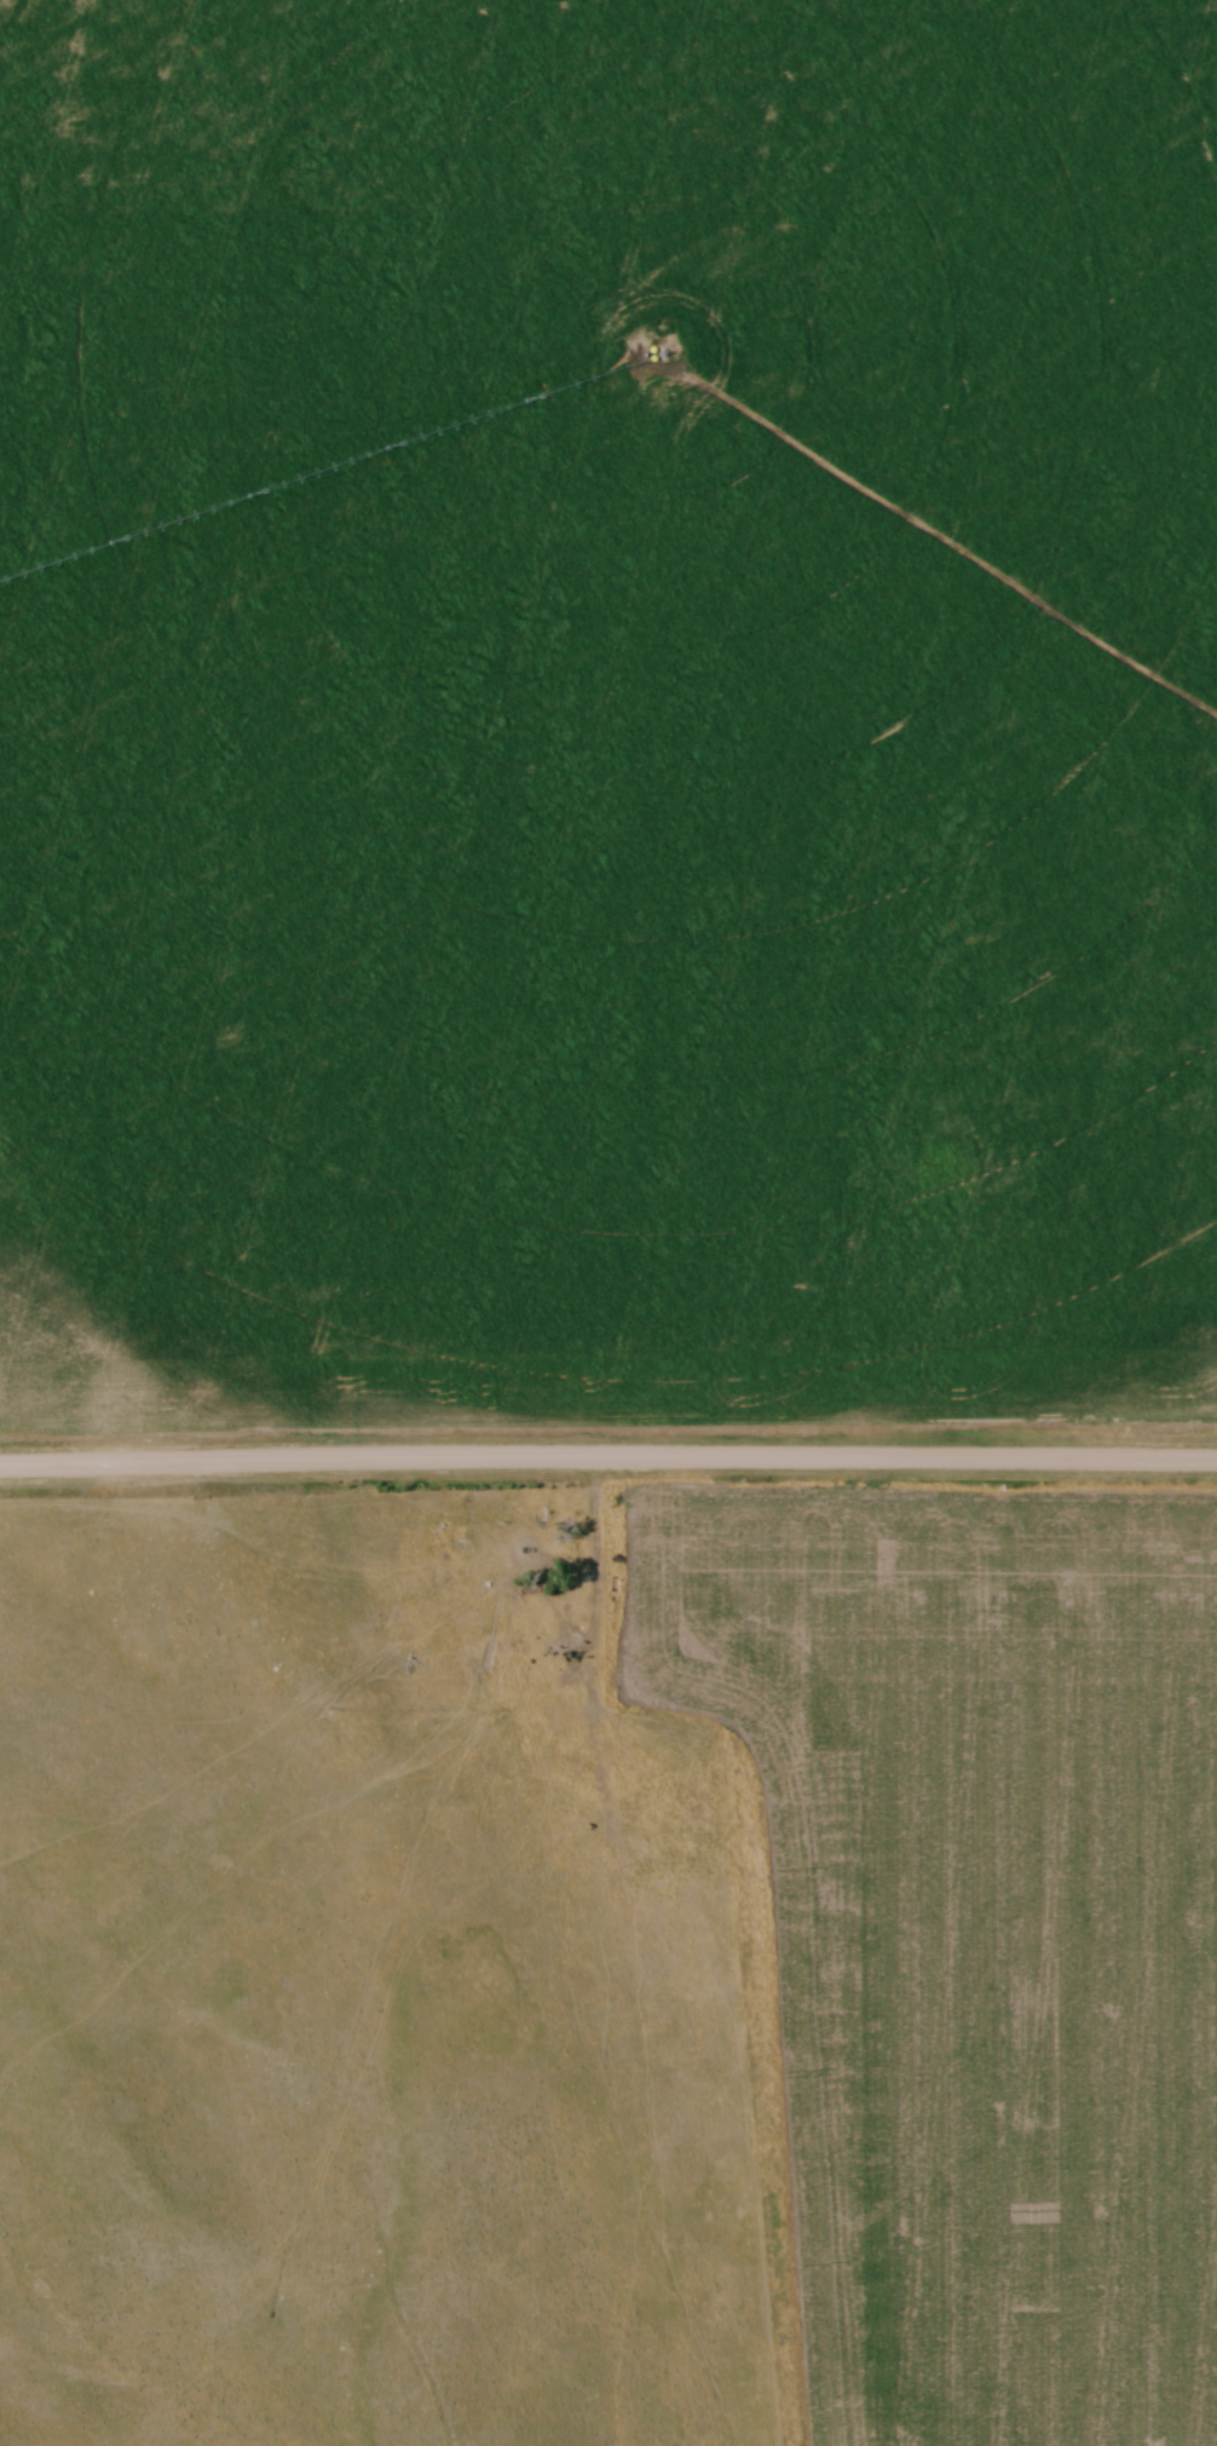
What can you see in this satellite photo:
road: (607, 1454)

